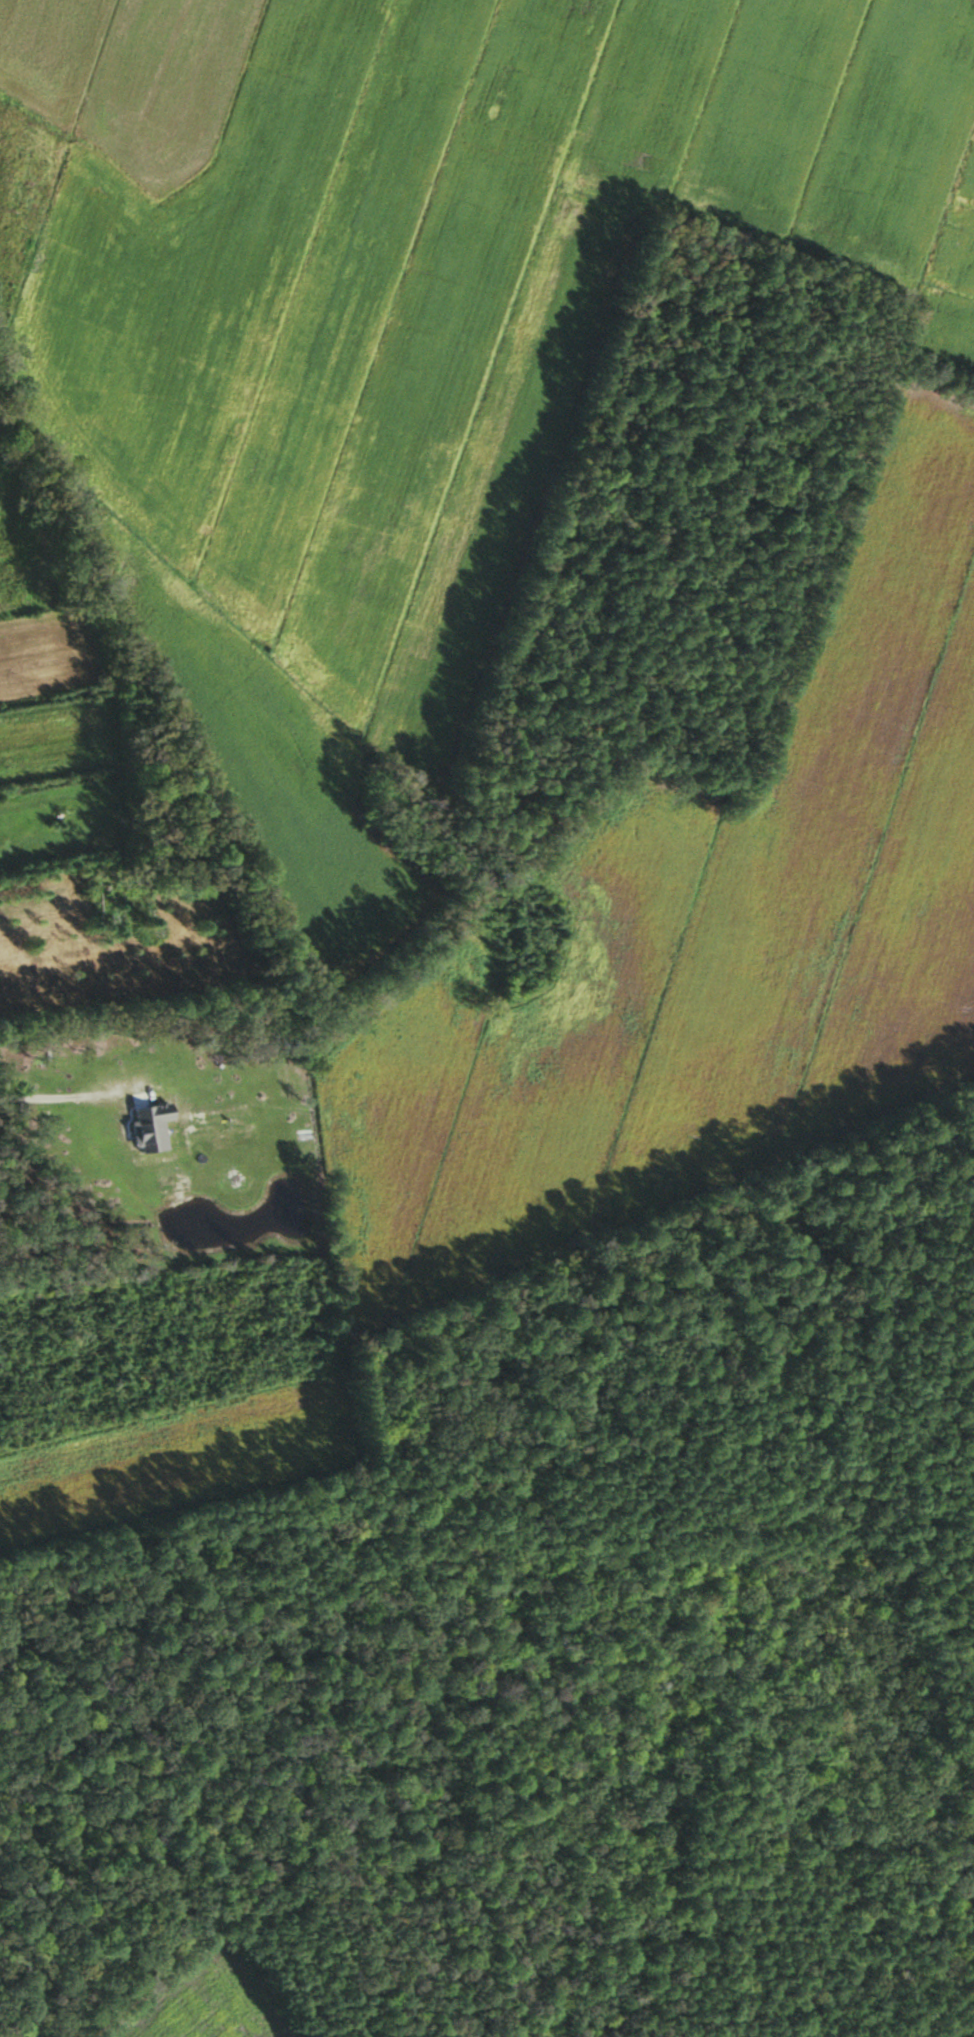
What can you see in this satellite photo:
road: (56, 1097)

